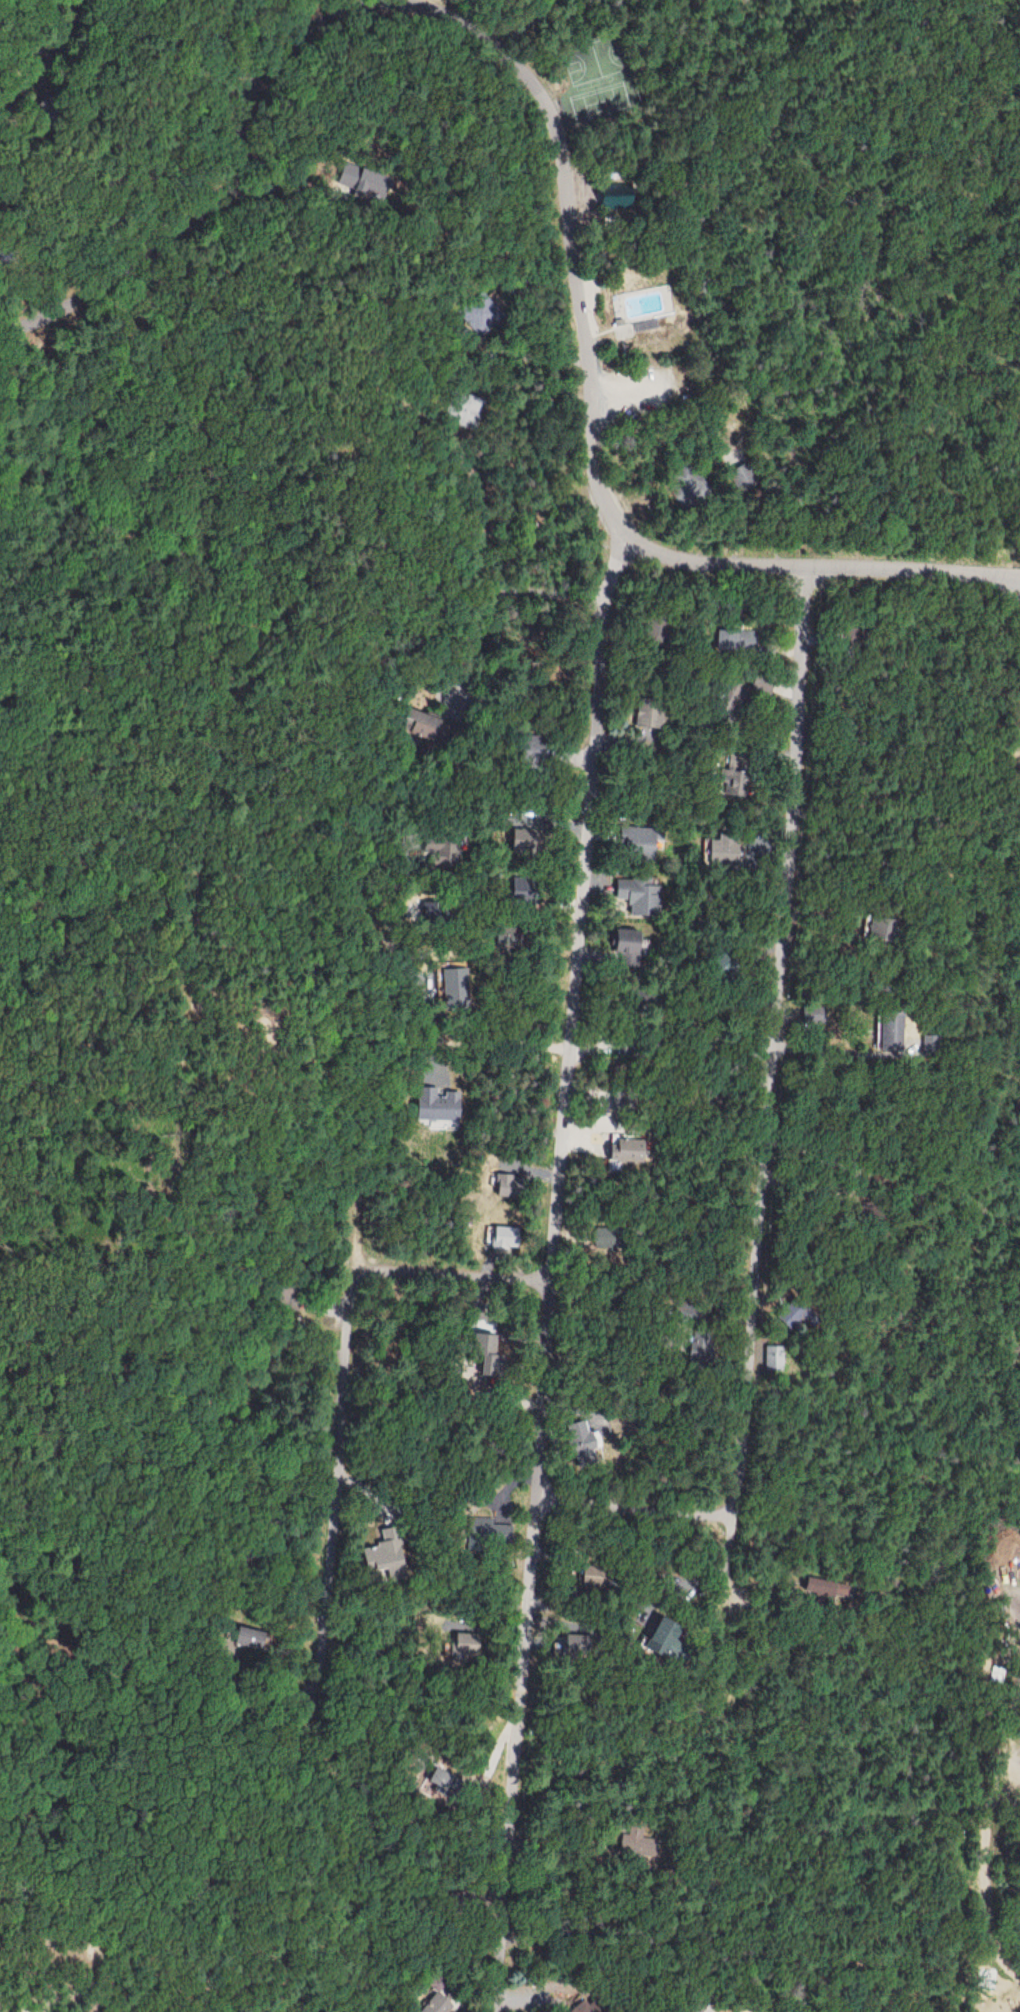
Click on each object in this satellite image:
road: (28, 41)
road: (1011, 83)
road: (198, 196)
road: (558, 254)
road: (815, 557)
road: (422, 696)
building: (644, 716)
building: (642, 841)
building: (725, 849)
building: (639, 894)
building: (880, 930)
building: (629, 940)
road: (590, 961)
road: (618, 964)
road: (762, 1027)
building: (888, 1032)
road: (537, 1271)
road: (332, 1384)
road: (627, 1498)
building: (386, 1557)
road: (729, 1585)
building: (656, 1636)
road: (574, 1987)

